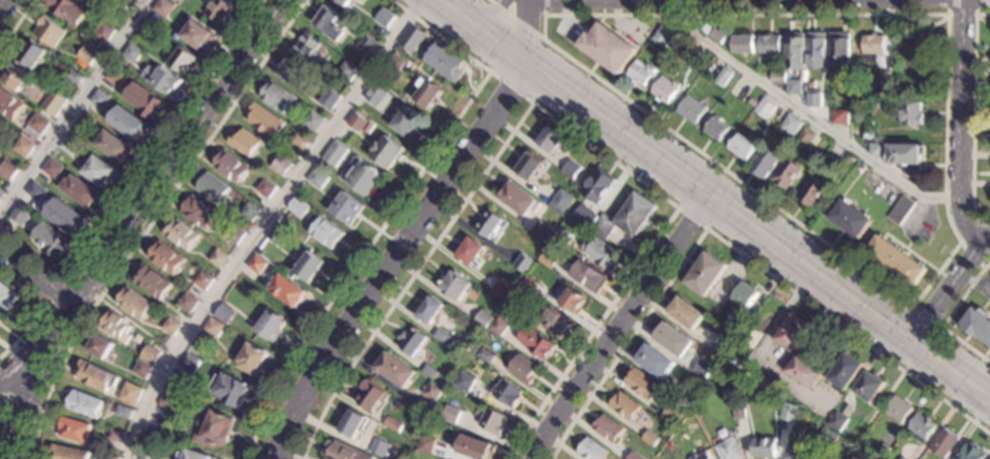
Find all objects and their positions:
building: (82, 0)
building: (84, 0)
building: (179, 0)
road: (490, 1)
building: (345, 2)
road: (3, 5)
road: (544, 7)
building: (163, 8)
road: (512, 8)
building: (218, 10)
building: (67, 11)
road: (469, 11)
road: (496, 11)
road: (960, 14)
road: (660, 15)
building: (384, 18)
road: (517, 20)
road: (15, 22)
building: (331, 24)
road: (530, 27)
building: (148, 28)
building: (702, 28)
building: (49, 31)
building: (102, 32)
building: (663, 33)
building: (198, 35)
building: (717, 36)
road: (507, 38)
building: (413, 39)
building: (924, 41)
building: (367, 44)
building: (742, 44)
building: (769, 45)
building: (899, 46)
building: (307, 47)
building: (873, 47)
building: (608, 48)
building: (817, 50)
building: (796, 51)
building: (840, 51)
building: (131, 52)
building: (31, 54)
building: (688, 54)
building: (87, 55)
building: (183, 60)
building: (445, 62)
building: (924, 63)
building: (396, 64)
road: (524, 65)
building: (783, 68)
building: (347, 71)
building: (641, 73)
building: (294, 74)
building: (73, 76)
building: (15, 77)
building: (115, 77)
building: (723, 77)
building: (778, 78)
building: (161, 79)
building: (885, 80)
building: (811, 84)
road: (513, 88)
building: (794, 88)
building: (666, 90)
building: (426, 93)
building: (858, 96)
building: (278, 97)
building: (379, 97)
building: (99, 99)
building: (329, 99)
building: (814, 99)
building: (144, 100)
building: (53, 102)
building: (754, 102)
road: (73, 103)
building: (9, 104)
building: (765, 108)
building: (692, 110)
road: (801, 111)
building: (911, 114)
road: (973, 115)
building: (840, 117)
road: (554, 118)
building: (264, 120)
building: (314, 121)
building: (408, 121)
building: (82, 122)
building: (128, 123)
building: (359, 123)
building: (790, 125)
building: (1, 126)
building: (35, 126)
road: (956, 127)
building: (717, 129)
building: (867, 130)
building: (804, 138)
building: (552, 140)
building: (299, 141)
building: (244, 143)
building: (68, 146)
building: (112, 146)
building: (22, 147)
building: (742, 147)
building: (876, 150)
building: (387, 152)
building: (335, 153)
building: (906, 158)
building: (765, 163)
building: (280, 165)
building: (230, 166)
building: (530, 167)
building: (51, 168)
building: (572, 169)
building: (6, 171)
building: (98, 171)
road: (140, 173)
building: (787, 173)
building: (362, 177)
building: (318, 179)
building: (599, 186)
building: (212, 189)
building: (266, 189)
building: (34, 191)
building: (79, 191)
building: (812, 191)
building: (1, 193)
building: (520, 200)
building: (562, 201)
building: (298, 207)
building: (346, 208)
road: (393, 209)
building: (901, 210)
building: (250, 211)
building: (198, 212)
building: (18, 214)
building: (636, 214)
building: (63, 215)
building: (585, 216)
road: (691, 217)
road: (126, 219)
building: (851, 219)
road: (150, 221)
road: (262, 223)
road: (761, 223)
building: (491, 224)
building: (604, 227)
building: (541, 231)
building: (327, 233)
building: (180, 234)
building: (234, 234)
building: (276, 235)
road: (964, 235)
building: (562, 236)
building: (50, 240)
road: (988, 242)
road: (735, 249)
building: (471, 252)
building: (604, 254)
building: (165, 257)
building: (218, 258)
building: (548, 258)
building: (896, 260)
road: (388, 263)
building: (523, 263)
building: (256, 265)
building: (310, 267)
building: (706, 274)
road: (34, 277)
building: (589, 277)
building: (202, 280)
building: (151, 281)
road: (976, 282)
building: (529, 283)
building: (454, 284)
building: (288, 291)
road: (950, 291)
road: (56, 293)
building: (501, 294)
building: (746, 295)
building: (6, 297)
building: (573, 301)
building: (133, 303)
building: (187, 303)
building: (513, 306)
road: (43, 309)
building: (430, 310)
building: (685, 313)
building: (224, 314)
road: (926, 314)
road: (947, 319)
building: (483, 320)
road: (621, 321)
building: (555, 322)
building: (741, 322)
building: (268, 324)
building: (977, 325)
building: (170, 326)
building: (113, 327)
building: (213, 327)
building: (499, 327)
building: (792, 333)
building: (442, 337)
building: (751, 337)
building: (674, 340)
building: (412, 341)
building: (536, 343)
building: (720, 343)
building: (99, 347)
building: (150, 355)
building: (485, 356)
building: (252, 359)
building: (655, 361)
building: (190, 362)
building: (704, 365)
road: (22, 366)
building: (142, 369)
building: (523, 369)
building: (395, 370)
building: (429, 371)
building: (805, 372)
building: (845, 372)
building: (95, 376)
building: (464, 382)
building: (642, 383)
building: (868, 386)
building: (688, 388)
building: (229, 389)
building: (432, 391)
building: (507, 393)
building: (129, 394)
building: (372, 395)
building: (169, 399)
road: (19, 401)
building: (84, 404)
building: (625, 406)
building: (898, 409)
building: (738, 411)
road: (5, 413)
building: (123, 413)
building: (789, 413)
building: (669, 416)
building: (453, 419)
building: (493, 421)
building: (837, 421)
building: (352, 423)
building: (393, 424)
building: (922, 427)
building: (608, 428)
building: (74, 430)
building: (214, 430)
building: (116, 436)
building: (650, 438)
building: (827, 438)
building: (943, 443)
building: (425, 445)
building: (764, 447)
building: (381, 448)
building: (476, 448)
building: (729, 449)
building: (591, 450)
building: (882, 451)
building: (345, 452)
building: (798, 452)
building: (972, 452)
building: (69, 453)
building: (149, 455)
building: (192, 455)
building: (633, 456)
building: (701, 456)
building: (109, 457)
building: (901, 457)
building: (142, 458)

